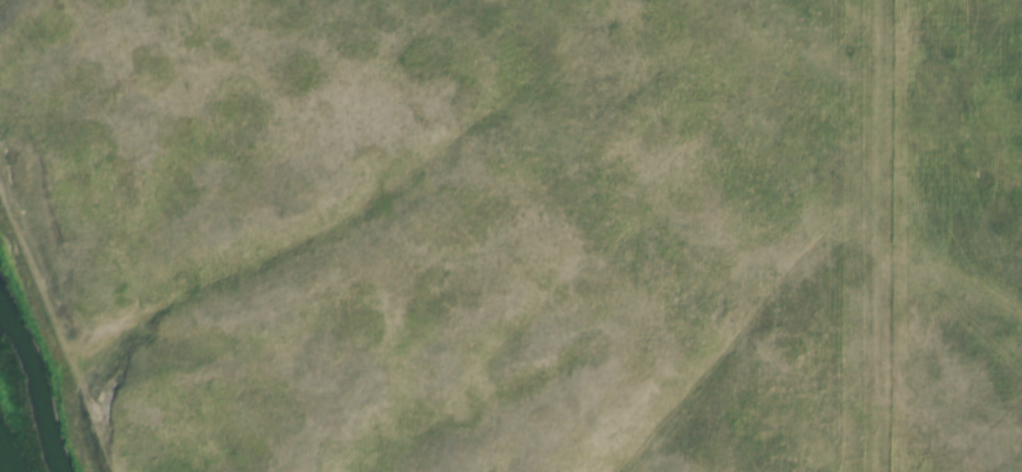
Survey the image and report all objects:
river: (3, 465)

